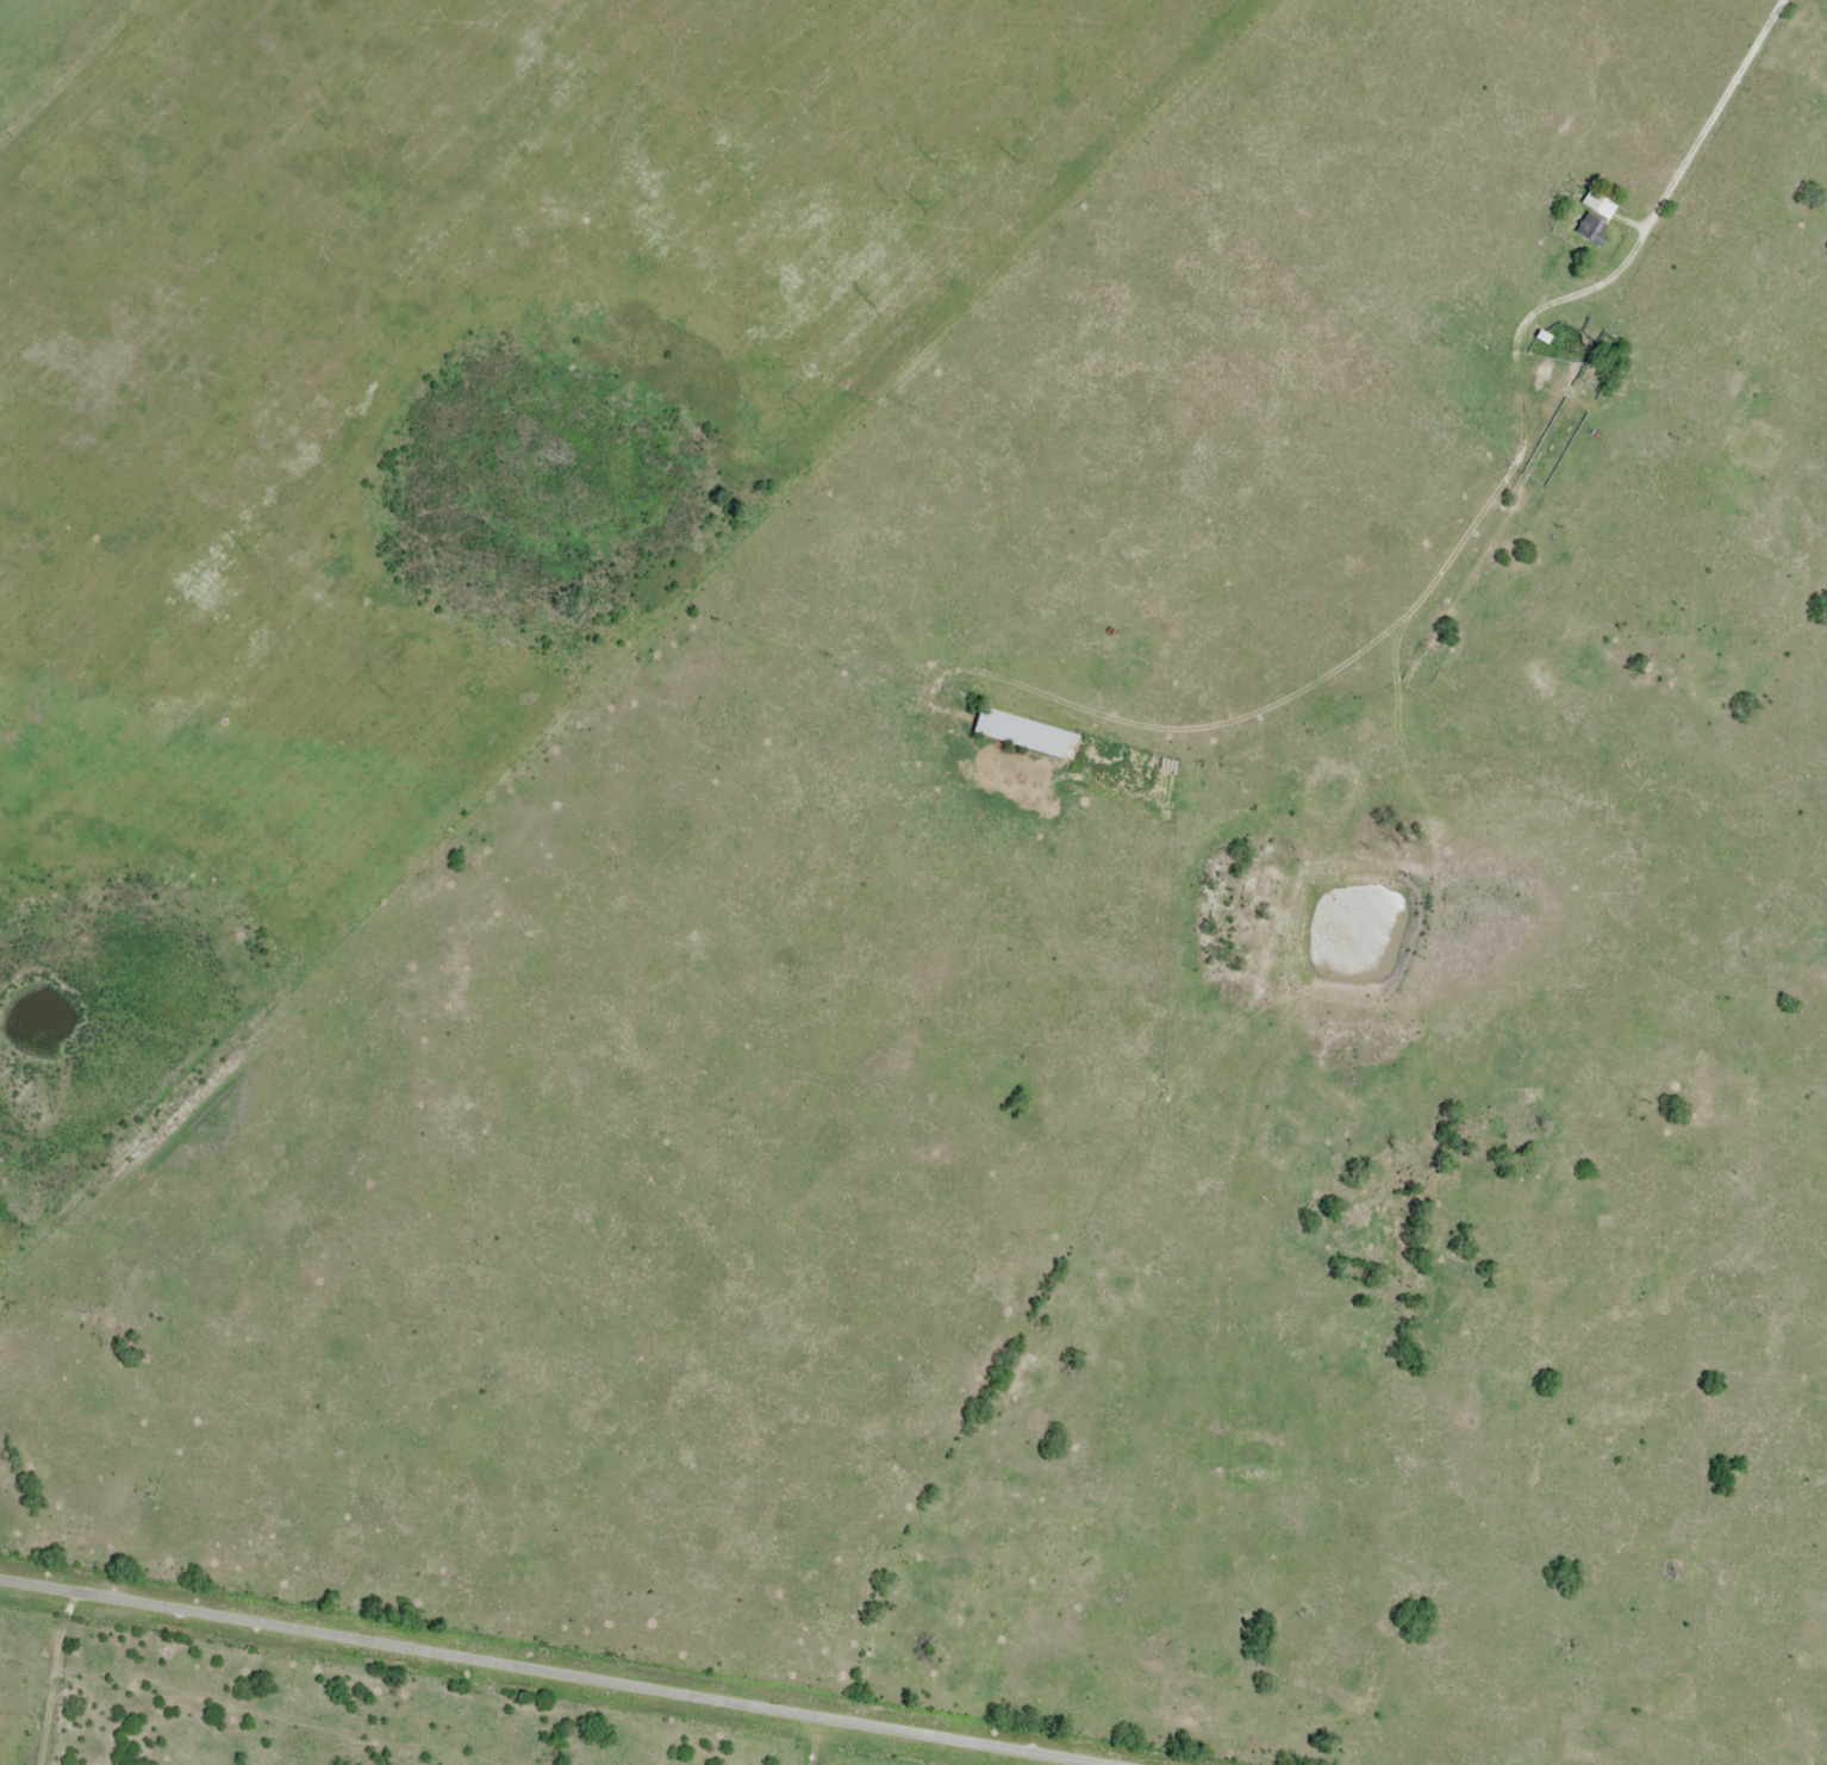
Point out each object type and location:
road: (1711, 117)
building: (1592, 201)
building: (1592, 230)
building: (1027, 735)
road: (545, 1672)

